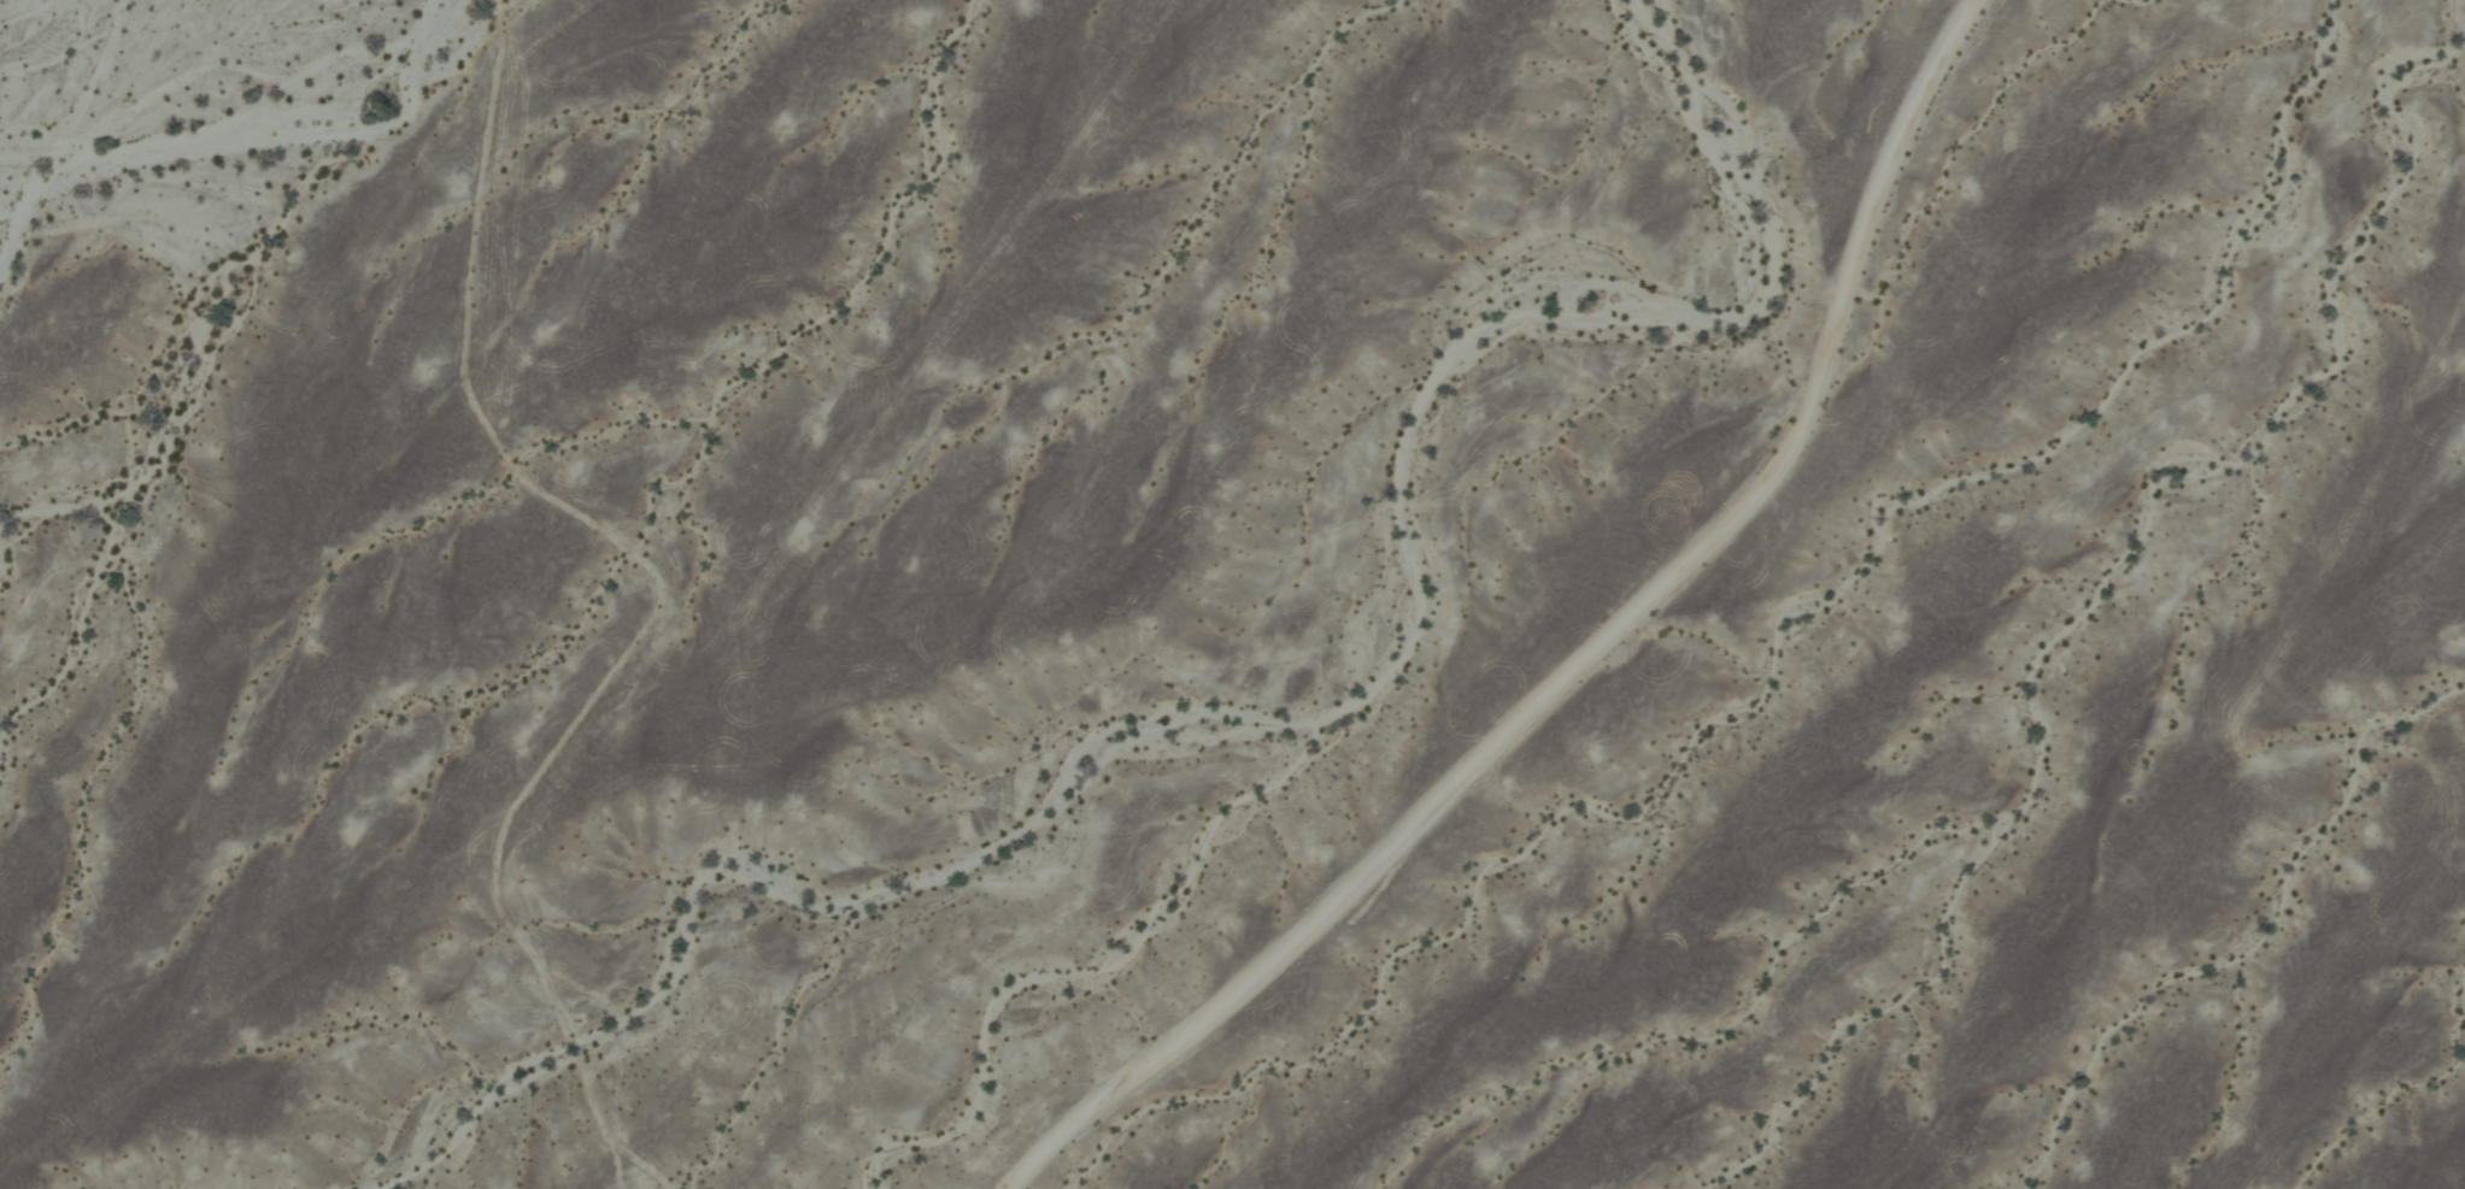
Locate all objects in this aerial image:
road: (1574, 658)

